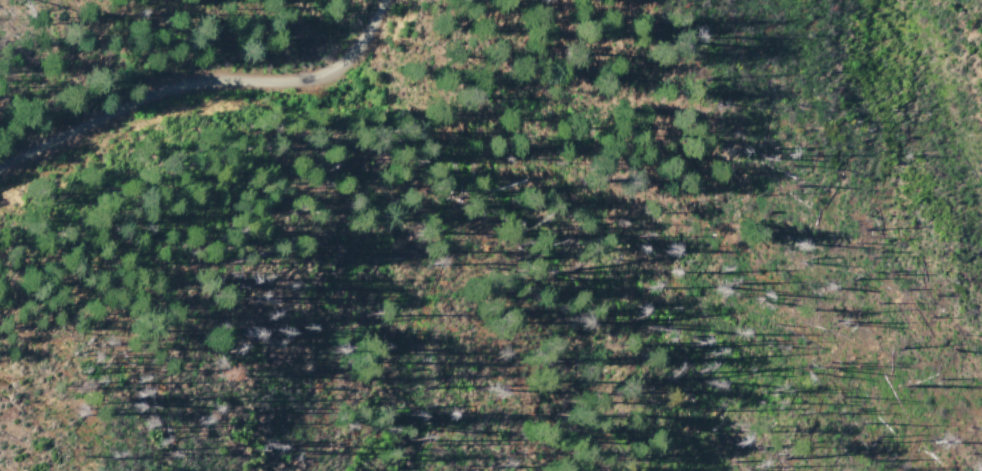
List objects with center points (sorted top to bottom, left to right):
road: (194, 145)

